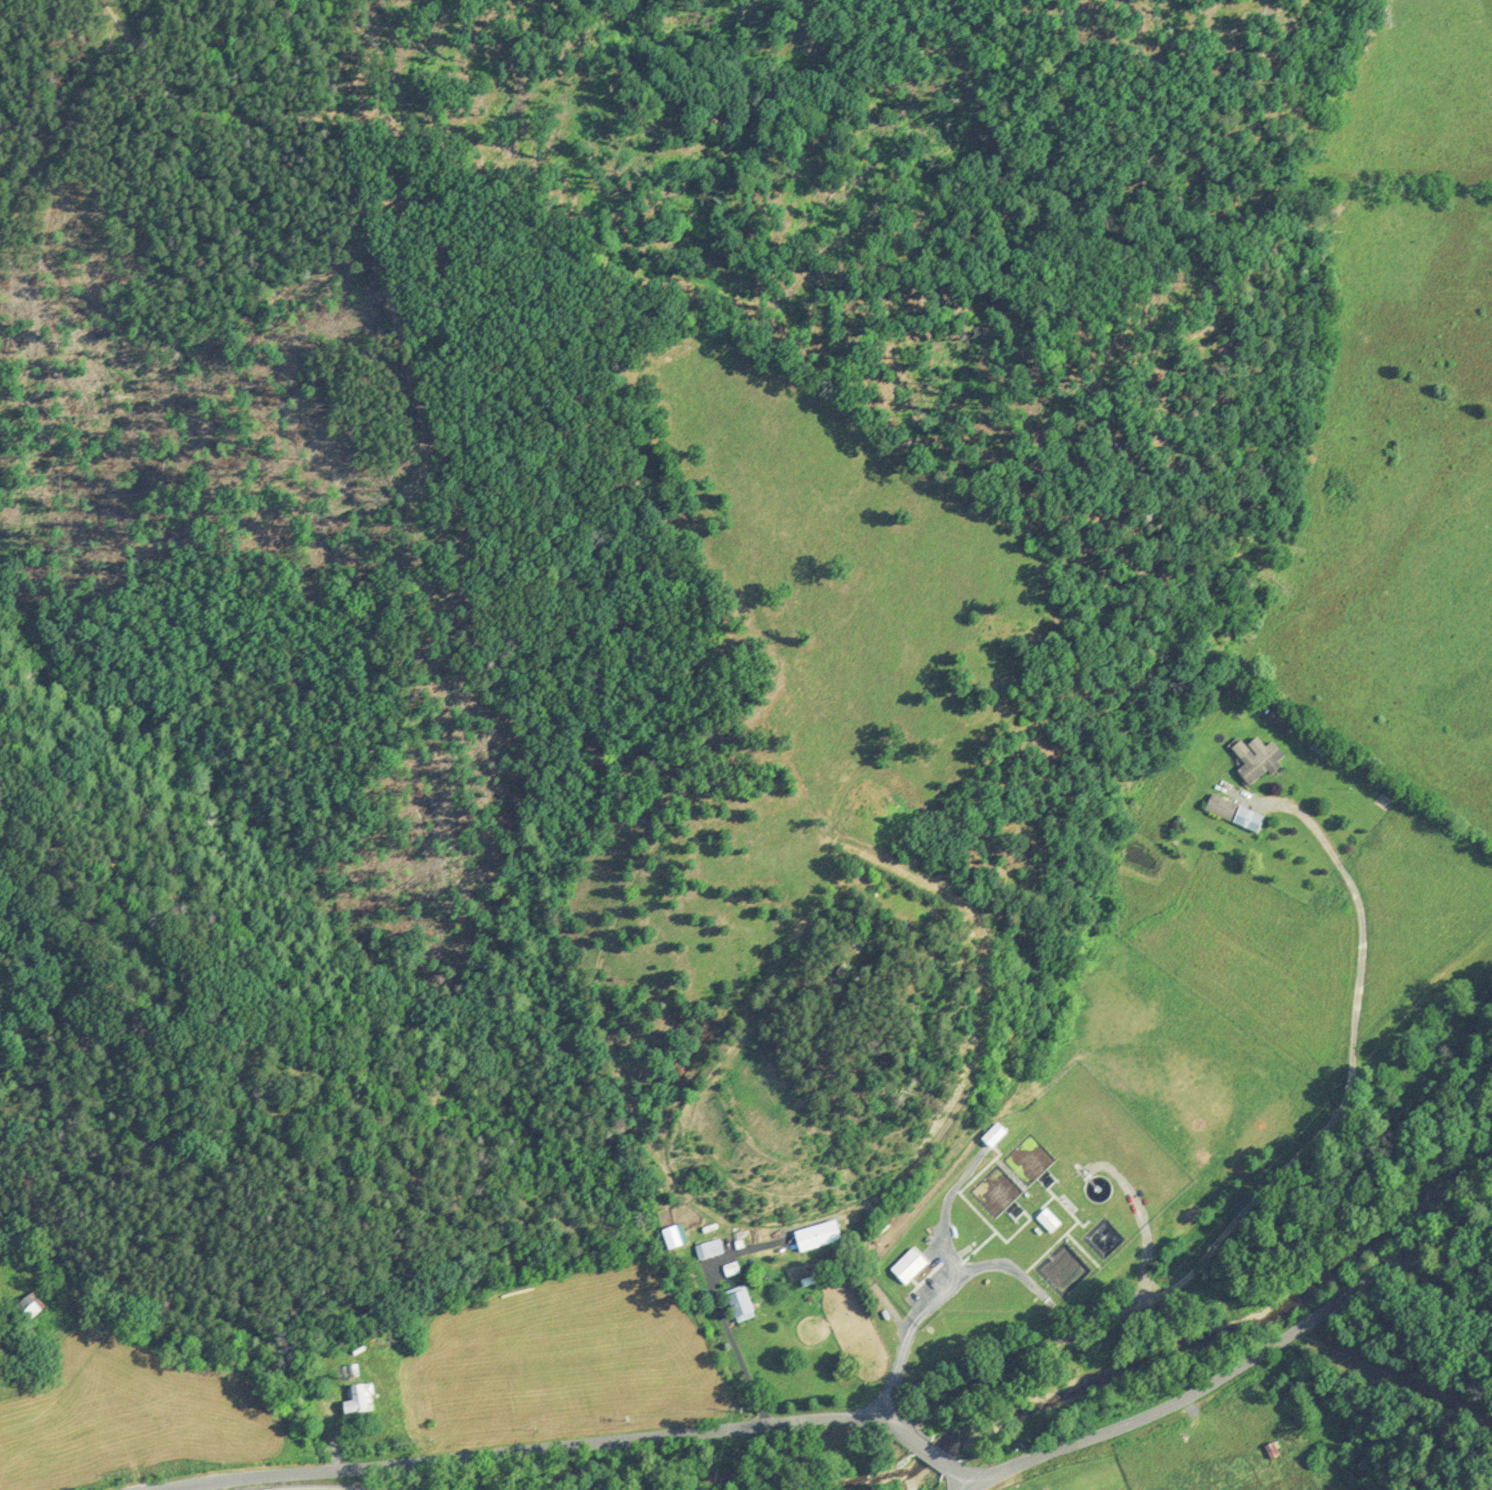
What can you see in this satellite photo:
building: (1255, 758)
building: (1219, 807)
building: (1247, 820)
building: (992, 1135)
road: (1279, 1171)
building: (1047, 1220)
building: (815, 1236)
building: (708, 1249)
building: (907, 1266)
road: (944, 1280)
building: (739, 1306)
building: (26, 1309)
river: (1207, 1339)
road: (1235, 1367)
building: (359, 1401)
road: (889, 1429)
road: (519, 1450)
road: (921, 1458)
river: (643, 1470)
road: (939, 1483)

